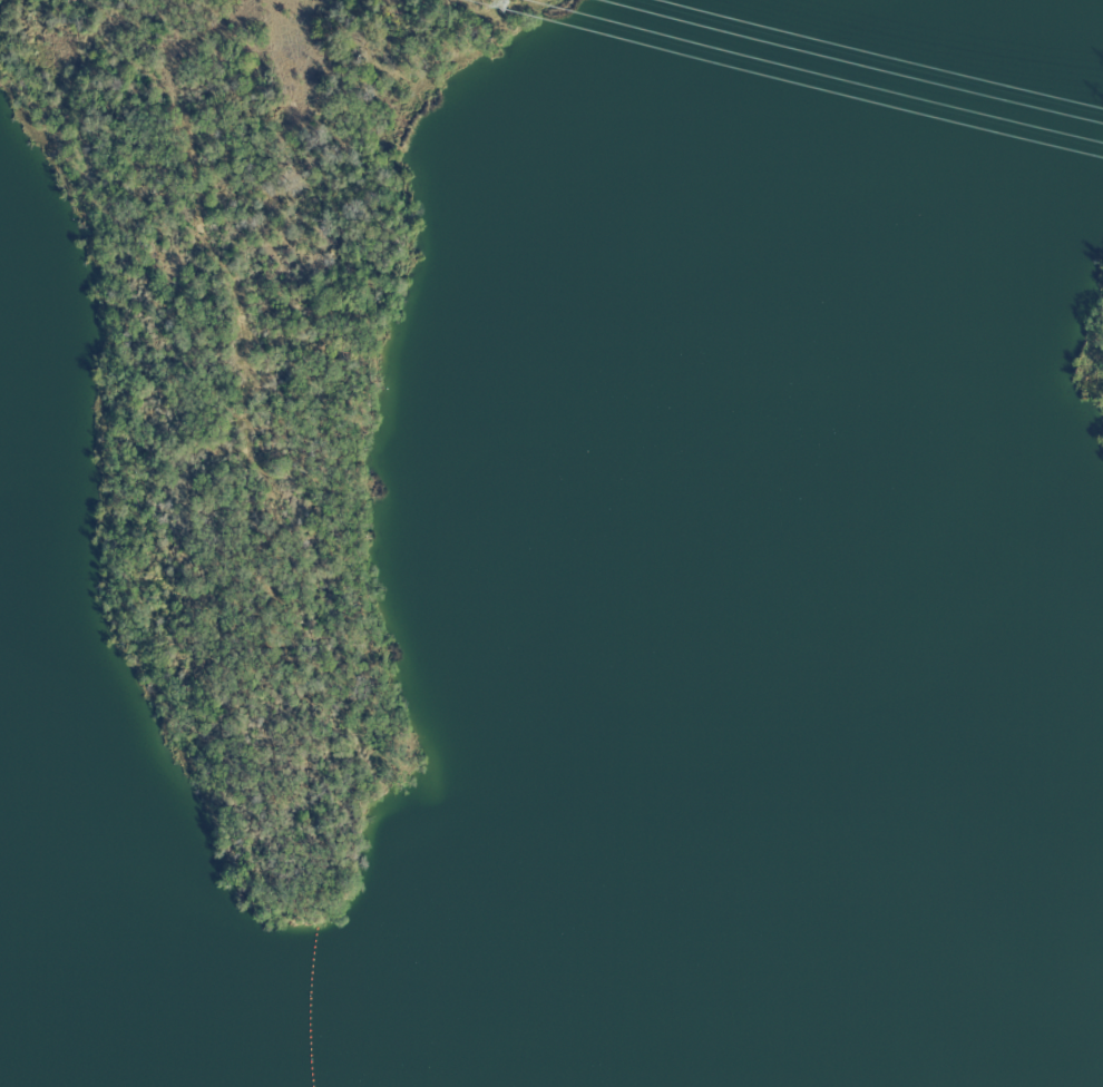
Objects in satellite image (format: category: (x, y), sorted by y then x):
power tower: (502, 7)

